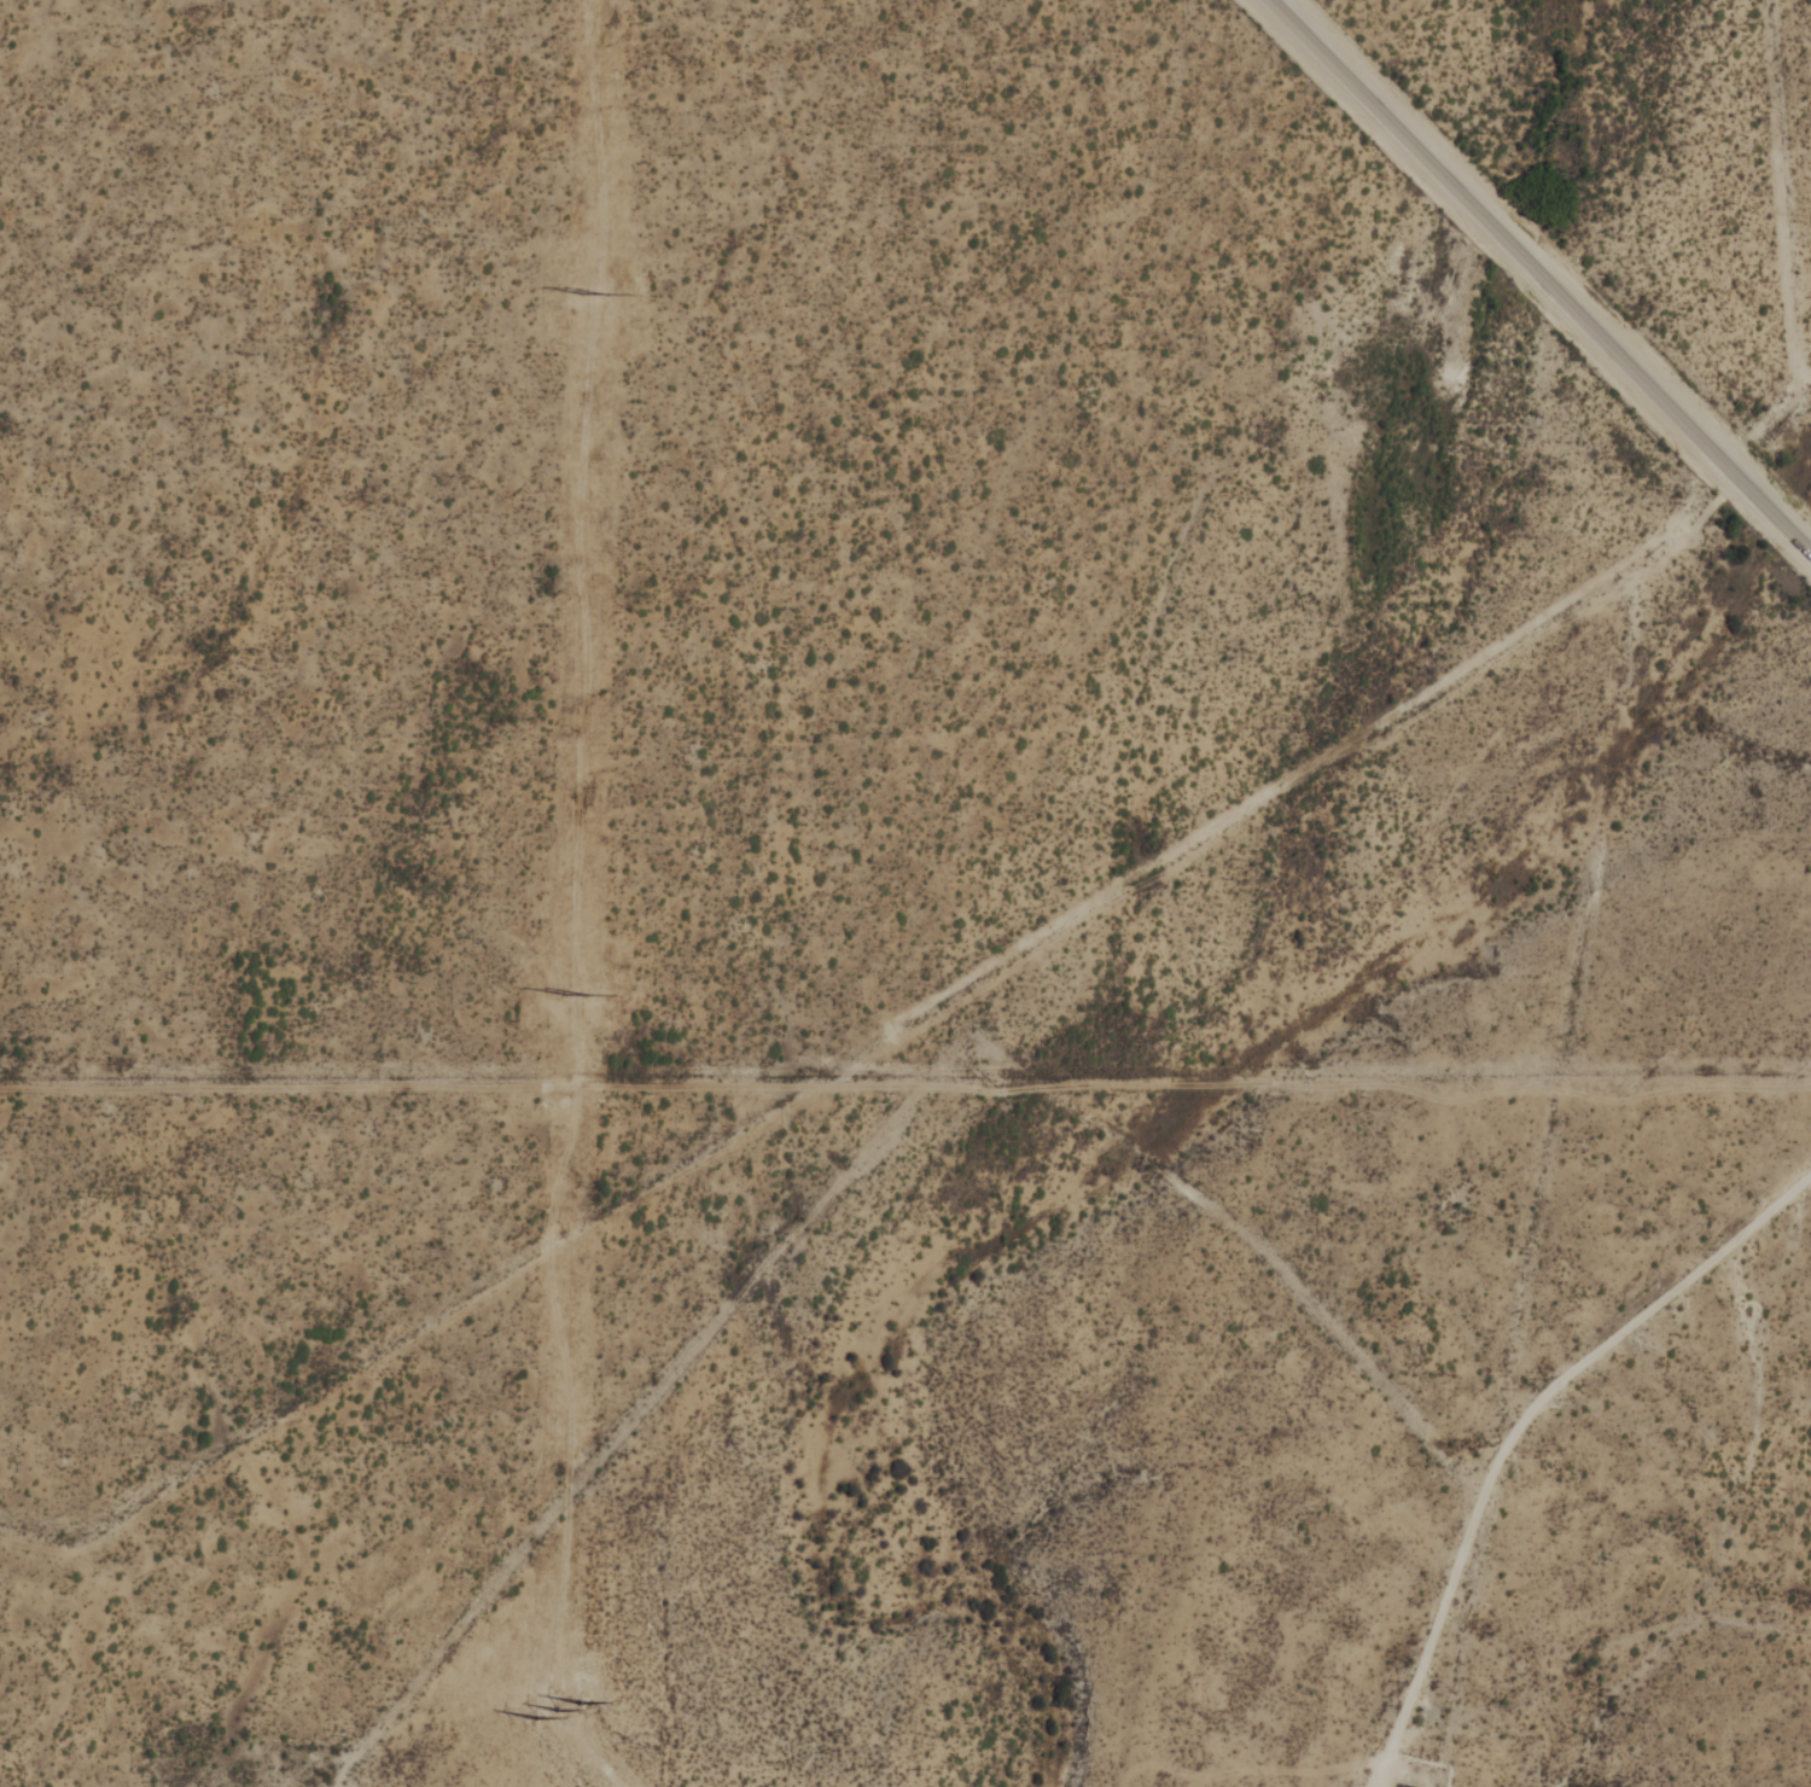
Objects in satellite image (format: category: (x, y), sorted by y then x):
road: (1542, 275)
power tower: (584, 291)
power tower: (570, 995)
road: (870, 1148)
road: (1497, 1462)
road: (1574, 1652)
power tower: (555, 1715)

